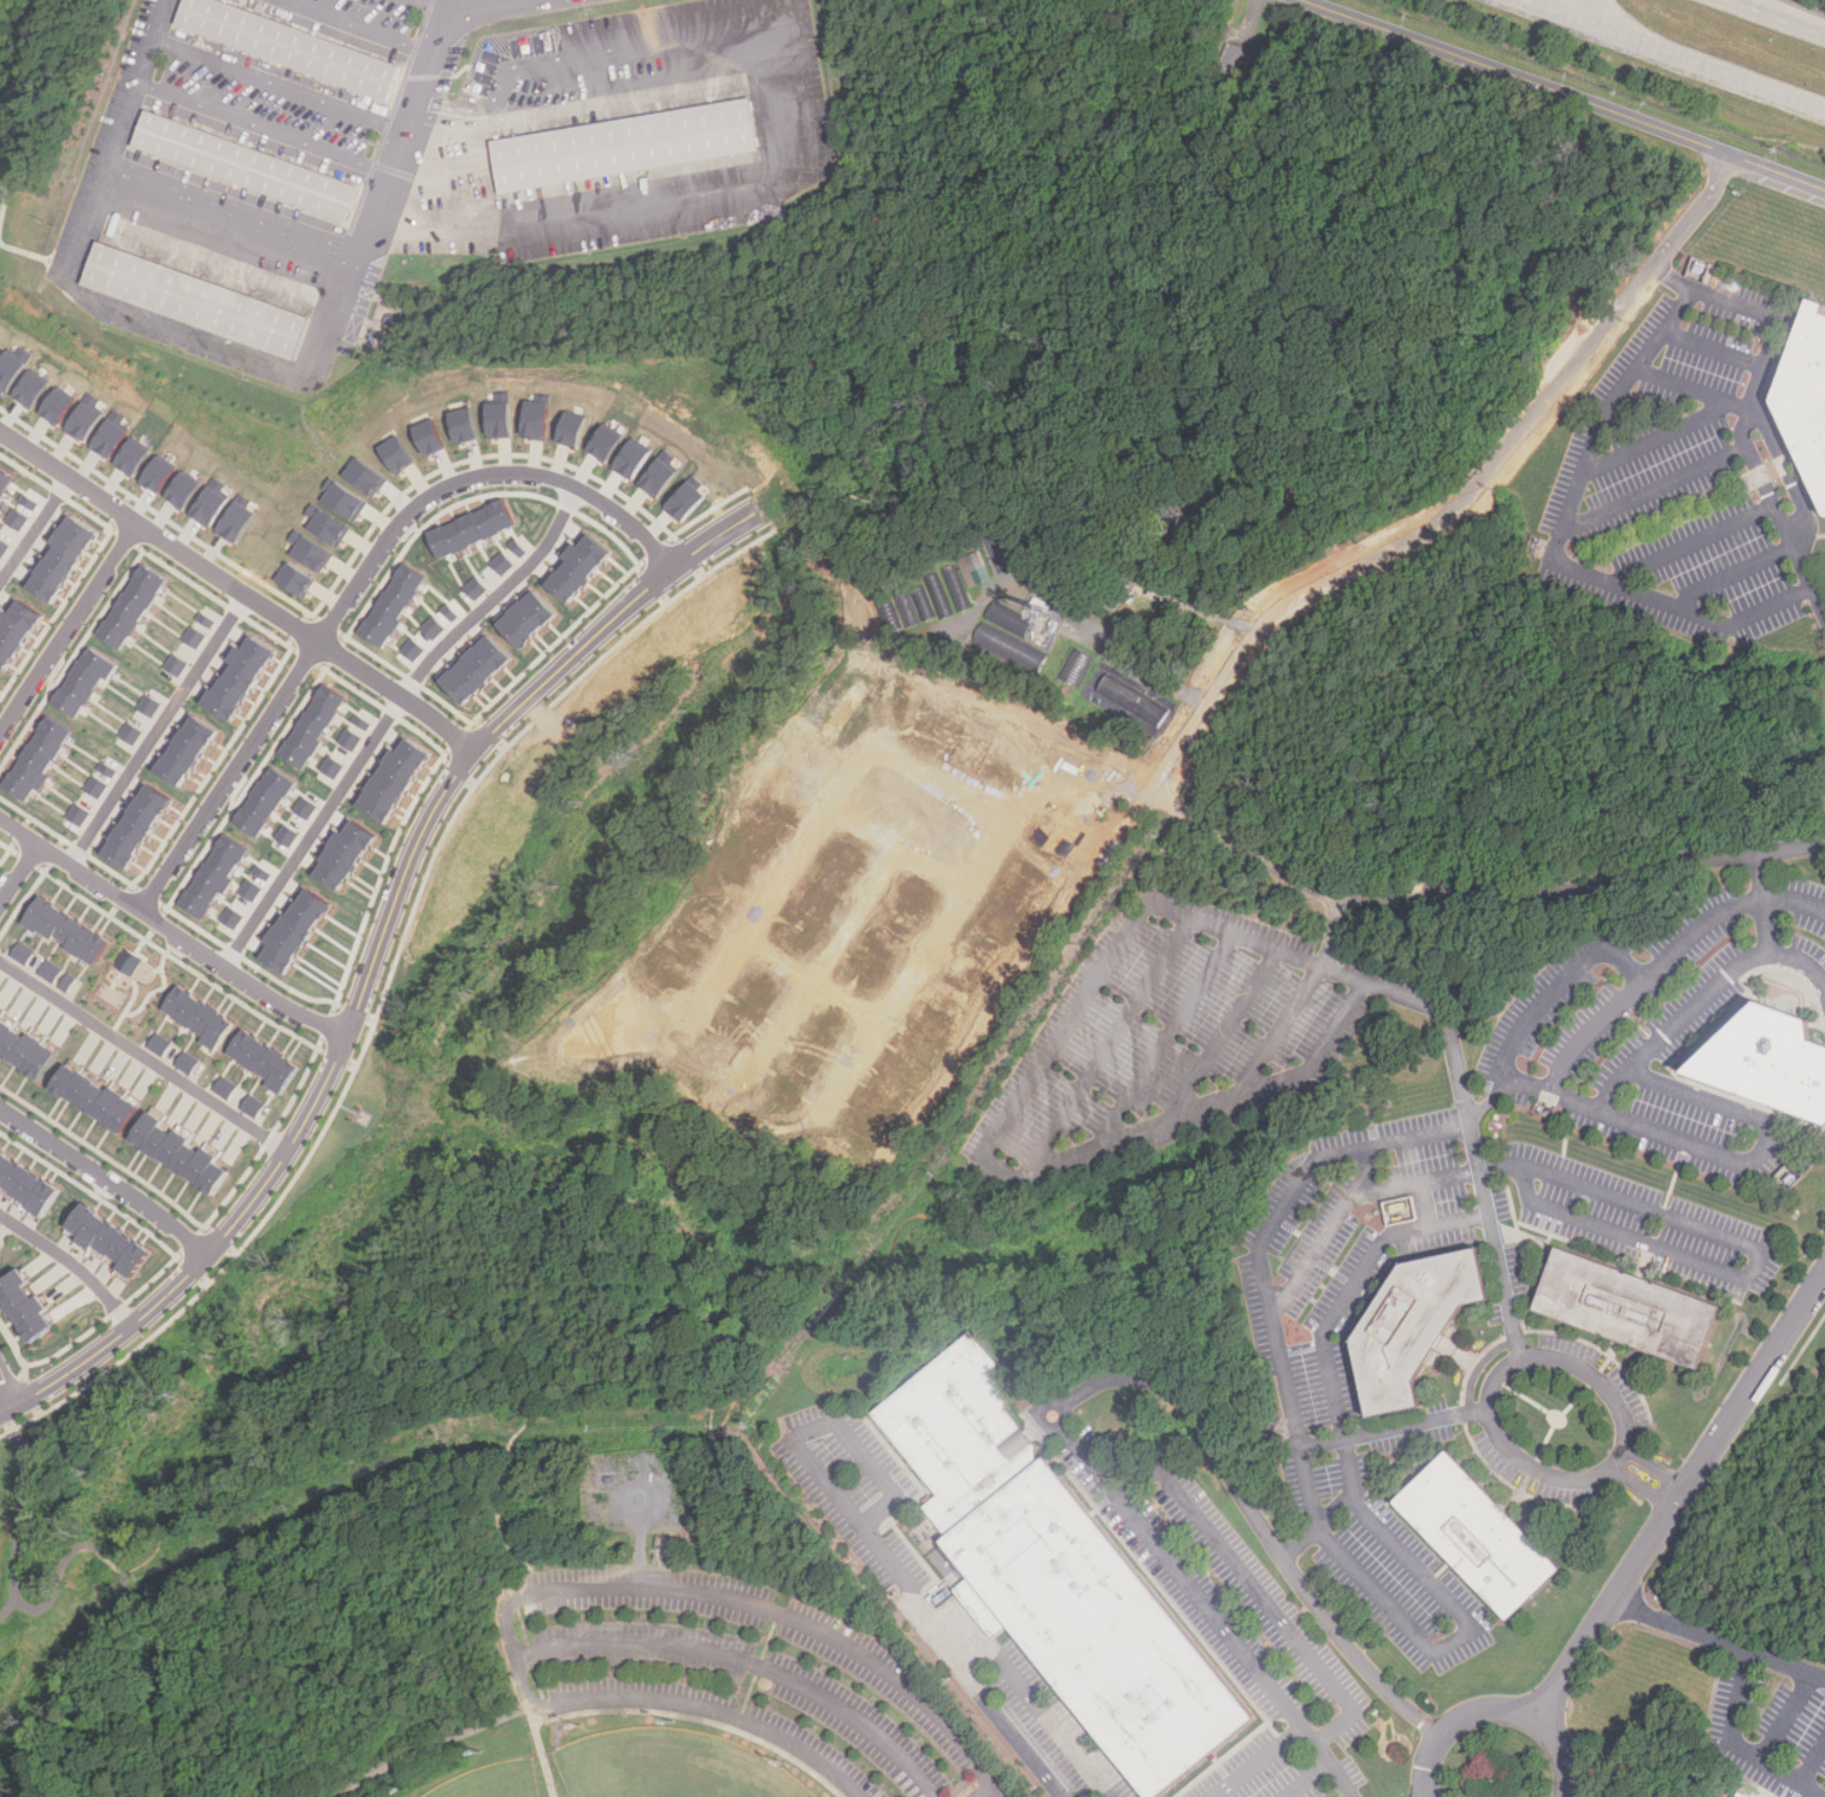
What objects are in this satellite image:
traffic signals: (1520, 1)
road: (438, 4)
road: (487, 6)
road: (1542, 8)
road: (1567, 8)
road: (1570, 8)
road: (1772, 18)
parking lot: (363, 19)
road: (355, 26)
building: (299, 43)
building: (1237, 59)
road: (1696, 64)
road: (282, 84)
road: (1560, 95)
parking lot: (534, 114)
road: (265, 130)
road: (793, 130)
road: (122, 137)
building: (632, 139)
building: (253, 164)
road: (470, 164)
parking lot: (214, 181)
road: (384, 192)
road: (237, 211)
road: (0, 238)
building: (208, 294)
road: (188, 335)
road: (1715, 347)
building: (8, 370)
building: (31, 388)
road: (1692, 389)
building: (1809, 389)
building: (57, 405)
road: (1750, 407)
building: (499, 418)
building: (536, 419)
building: (83, 420)
building: (464, 425)
building: (571, 429)
building: (111, 436)
building: (429, 436)
road: (1658, 438)
building: (607, 442)
building: (398, 453)
building: (134, 455)
building: (632, 459)
building: (159, 473)
building: (366, 477)
building: (659, 477)
road: (471, 478)
building: (6, 482)
road: (419, 482)
road: (1655, 487)
building: (187, 489)
road: (398, 497)
building: (30, 501)
building: (347, 501)
building: (685, 501)
building: (213, 505)
road: (1454, 509)
building: (18, 518)
building: (239, 522)
building: (331, 528)
road: (33, 529)
building: (472, 529)
road: (1695, 543)
road: (1558, 544)
building: (4, 546)
building: (518, 548)
building: (316, 553)
building: (65, 556)
building: (502, 562)
building: (582, 566)
building: (973, 568)
road: (1736, 576)
building: (298, 579)
building: (476, 589)
road: (237, 591)
building: (947, 591)
building: (395, 603)
building: (135, 606)
building: (911, 606)
road: (1207, 609)
building: (451, 612)
building: (210, 619)
building: (529, 619)
road: (66, 626)
building: (434, 628)
building: (19, 632)
building: (198, 636)
building: (414, 649)
building: (1008, 650)
building: (179, 664)
building: (1075, 667)
building: (479, 670)
building: (245, 677)
road: (1143, 678)
building: (89, 682)
building: (0, 683)
building: (1132, 705)
building: (153, 706)
road: (388, 717)
building: (364, 723)
building: (318, 726)
building: (135, 732)
road: (158, 732)
building: (353, 740)
building: (194, 750)
building: (42, 759)
building: (332, 767)
building: (112, 770)
road: (229, 778)
road: (934, 778)
building: (399, 780)
building: (100, 786)
building: (266, 801)
building: (307, 808)
building: (82, 814)
building: (142, 826)
building: (290, 835)
road: (1789, 846)
building: (348, 854)
road: (895, 854)
road: (1272, 860)
building: (265, 872)
road: (20, 878)
building: (218, 878)
road: (777, 878)
building: (254, 890)
road: (1544, 891)
road: (969, 905)
building: (235, 918)
road: (1764, 919)
building: (70, 930)
road: (171, 931)
building: (301, 932)
road: (147, 938)
road: (1601, 950)
building: (25, 954)
road: (375, 959)
building: (131, 961)
road: (823, 965)
building: (53, 971)
road: (818, 982)
building: (71, 983)
road: (166, 984)
road: (389, 984)
road: (131, 1007)
building: (201, 1017)
road: (1588, 1027)
road: (1281, 1031)
road: (1224, 1035)
road: (1056, 1039)
road: (1167, 1039)
building: (163, 1044)
road: (1106, 1047)
building: (27, 1049)
road: (143, 1055)
building: (1774, 1060)
building: (267, 1061)
building: (190, 1062)
road: (1614, 1086)
building: (228, 1088)
building: (99, 1097)
building: (257, 1106)
road: (1761, 1120)
building: (183, 1154)
road: (1366, 1169)
road: (107, 1178)
building: (28, 1184)
road: (1348, 1201)
building: (1395, 1208)
building: (112, 1241)
road: (1494, 1243)
building: (0, 1253)
road: (1761, 1253)
road: (73, 1261)
road: (1354, 1285)
road: (485, 1286)
building: (27, 1307)
building: (1632, 1308)
building: (1420, 1327)
road: (1497, 1377)
road: (10, 1381)
road: (1291, 1401)
road: (832, 1422)
road: (1393, 1426)
road: (1619, 1457)
road: (1099, 1472)
road: (1355, 1490)
road: (1680, 1496)
building: (1483, 1536)
road: (108, 1561)
building: (1060, 1574)
road: (17, 1575)
road: (1254, 1587)
road: (748, 1602)
road: (131, 1610)
road: (1680, 1627)
road: (440, 1636)
road: (1458, 1636)
road: (542, 1644)
park: (512, 1650)
road: (958, 1662)
road: (1786, 1663)
parking lot: (742, 1669)
road: (1029, 1692)
road: (1786, 1716)
road: (1455, 1722)
road: (1736, 1745)
road: (436, 1746)
road: (544, 1751)
road: (1562, 1752)
road: (1256, 1758)
road: (1812, 1761)
park: (669, 1767)
park: (490, 1780)
road: (1311, 1780)
road: (985, 1792)
building: (1750, 1793)
building: (1741, 1795)

